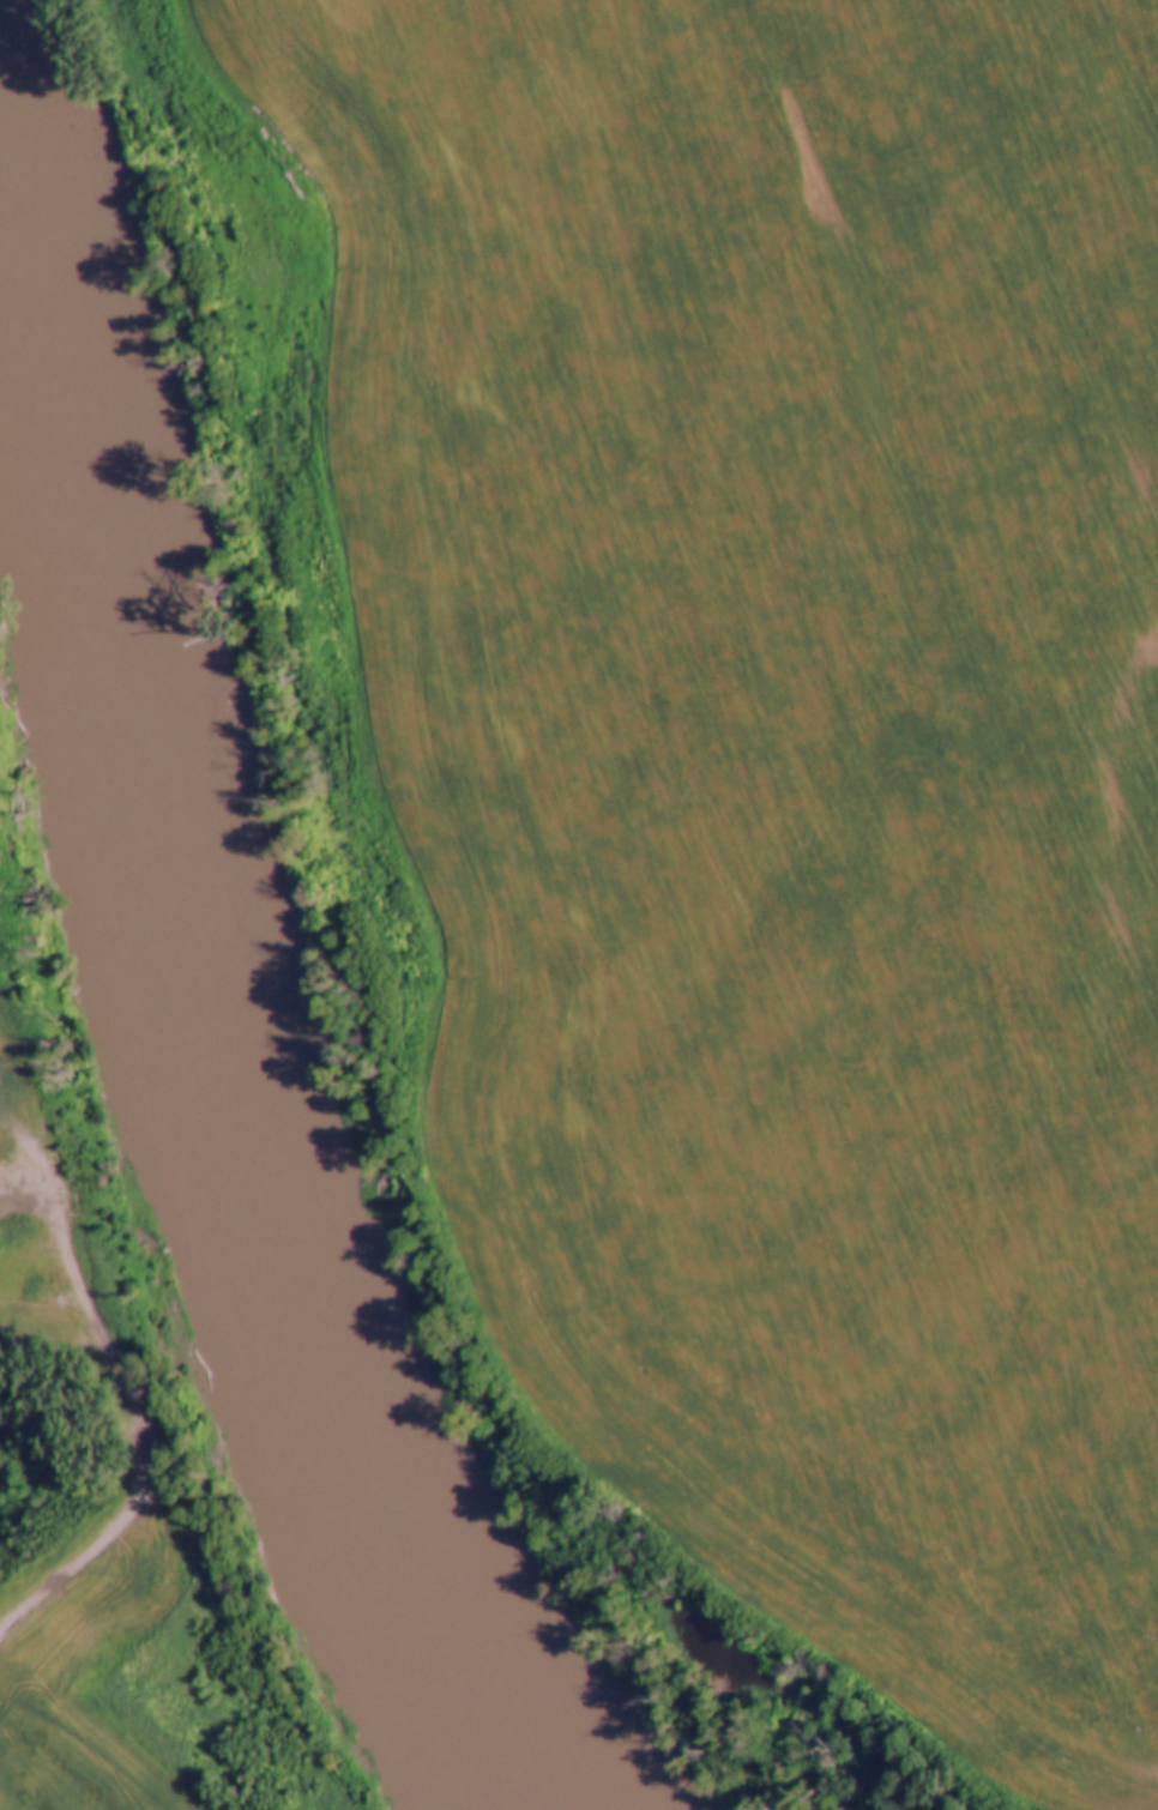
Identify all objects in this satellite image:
river: (207, 1057)
road: (125, 1489)

